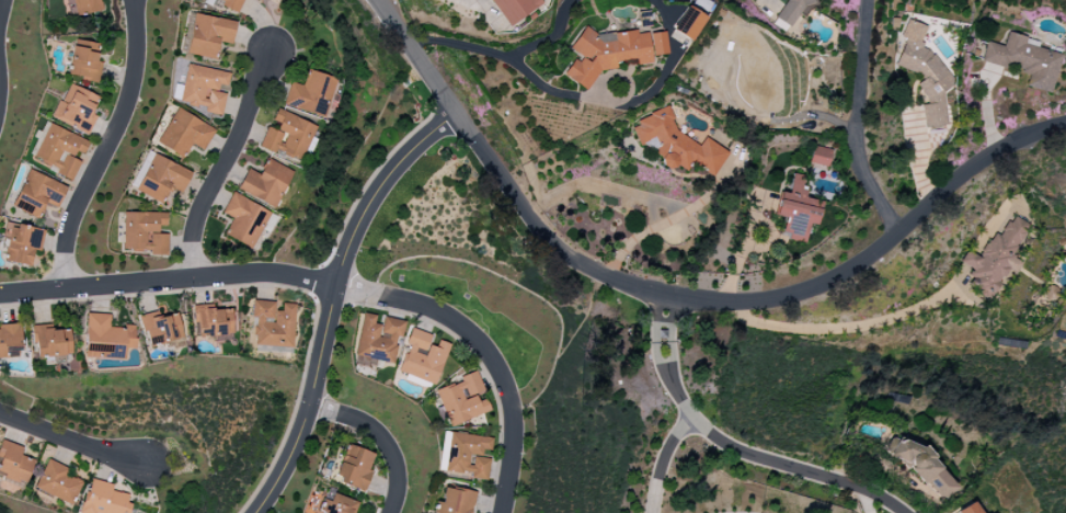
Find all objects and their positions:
building: (231, 4)
building: (83, 7)
building: (515, 9)
building: (791, 10)
building: (644, 20)
building: (687, 23)
park: (307, 34)
building: (208, 35)
road: (549, 35)
road: (457, 45)
building: (610, 53)
building: (1024, 60)
road: (669, 62)
building: (924, 73)
road: (631, 84)
building: (204, 89)
road: (550, 90)
building: (311, 94)
building: (76, 109)
road: (853, 119)
building: (184, 134)
building: (288, 136)
building: (677, 144)
road: (105, 146)
building: (59, 149)
building: (818, 156)
road: (223, 168)
building: (162, 179)
building: (266, 183)
building: (37, 194)
building: (795, 210)
road: (668, 219)
building: (244, 220)
building: (144, 232)
building: (21, 243)
building: (995, 256)
road: (334, 287)
road: (678, 296)
road: (333, 300)
park: (477, 319)
building: (211, 321)
building: (273, 324)
building: (160, 329)
road: (847, 329)
building: (106, 338)
building: (378, 339)
building: (9, 341)
building: (50, 342)
building: (422, 357)
building: (462, 400)
road: (382, 436)
road: (72, 437)
road: (733, 449)
building: (467, 455)
road: (661, 460)
road: (875, 461)
building: (13, 463)
building: (354, 468)
building: (924, 469)
building: (57, 482)
building: (103, 499)
building: (455, 501)
building: (337, 505)
building: (968, 509)

